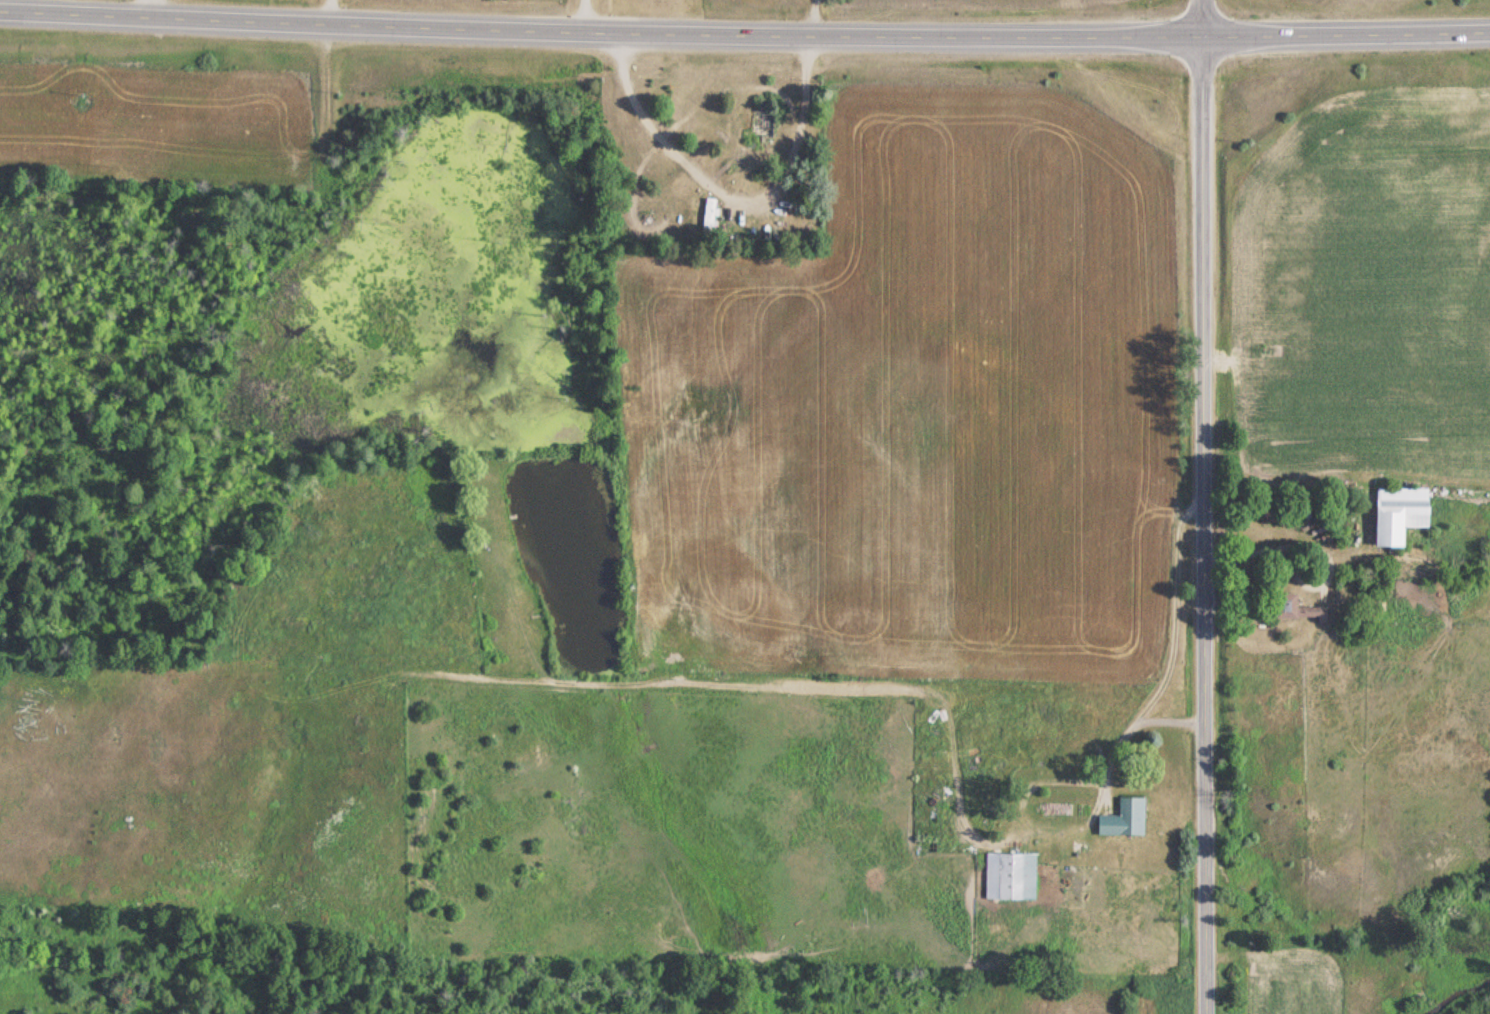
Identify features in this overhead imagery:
road: (744, 33)
road: (730, 196)
building: (706, 215)
road: (1199, 506)
building: (1395, 514)
building: (1291, 609)
road: (1176, 616)
road: (1083, 784)
building: (1120, 819)
building: (1001, 876)

